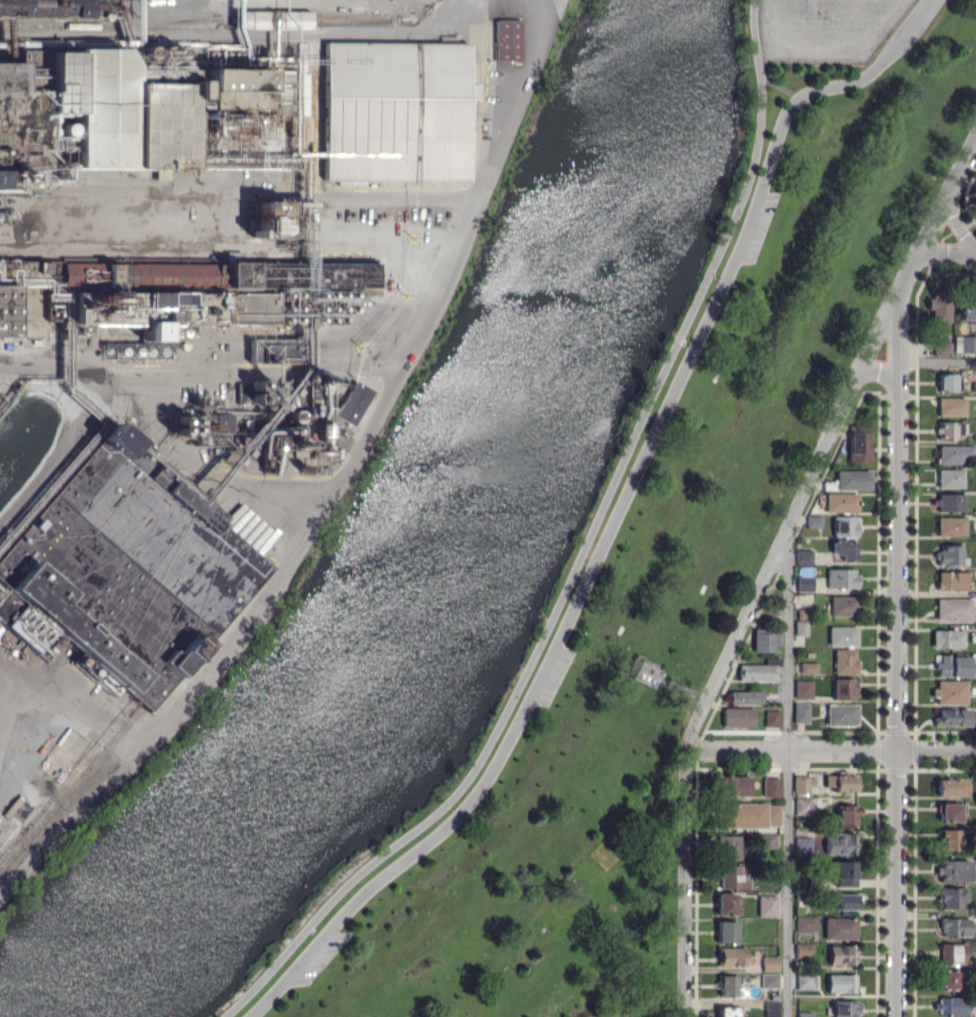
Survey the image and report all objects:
building: (42, 8)
building: (249, 17)
railway: (193, 18)
building: (293, 19)
road: (757, 27)
road: (752, 29)
parking lot: (819, 30)
building: (506, 40)
road: (845, 55)
road: (759, 57)
building: (232, 79)
building: (97, 111)
building: (395, 111)
building: (0, 182)
road: (949, 197)
silo: (189, 207)
silo: (132, 208)
silo: (151, 208)
silo: (170, 208)
silo: (93, 209)
silo: (113, 209)
silo: (72, 210)
building: (267, 218)
silo: (72, 230)
silo: (94, 230)
silo: (114, 230)
silo: (134, 230)
silo: (152, 230)
silo: (170, 230)
silo: (190, 230)
road: (949, 254)
building: (161, 298)
building: (939, 306)
building: (247, 308)
building: (967, 309)
building: (6, 311)
building: (965, 344)
building: (942, 348)
building: (268, 350)
road: (937, 363)
road: (882, 367)
building: (948, 381)
building: (242, 391)
building: (353, 402)
building: (951, 406)
building: (207, 425)
building: (949, 429)
building: (859, 444)
building: (953, 453)
building: (949, 477)
building: (853, 479)
building: (948, 501)
building: (841, 502)
road: (615, 517)
building: (844, 525)
building: (950, 526)
building: (844, 549)
building: (950, 553)
building: (803, 556)
park: (656, 560)
building: (136, 562)
building: (840, 577)
building: (950, 580)
road: (565, 582)
building: (804, 583)
building: (842, 605)
building: (5, 608)
building: (953, 608)
road: (744, 621)
building: (62, 624)
building: (800, 627)
building: (29, 633)
building: (842, 635)
building: (947, 638)
building: (765, 640)
building: (183, 658)
building: (844, 660)
road: (897, 661)
building: (952, 665)
building: (808, 667)
building: (758, 670)
building: (646, 674)
building: (843, 688)
building: (803, 689)
building: (950, 692)
building: (745, 697)
building: (801, 712)
building: (841, 714)
building: (738, 716)
building: (771, 717)
building: (952, 717)
road: (831, 751)
road: (787, 775)
building: (841, 782)
building: (734, 785)
building: (802, 786)
building: (952, 786)
building: (771, 787)
railway: (69, 794)
building: (802, 805)
building: (949, 812)
building: (750, 814)
building: (846, 815)
building: (949, 839)
building: (768, 840)
building: (841, 843)
building: (803, 845)
building: (729, 847)
building: (953, 870)
building: (843, 872)
building: (732, 877)
building: (952, 897)
building: (845, 901)
building: (725, 903)
building: (767, 905)
building: (806, 923)
building: (954, 926)
building: (840, 928)
building: (726, 931)
building: (803, 950)
building: (951, 952)
building: (841, 954)
building: (731, 956)
building: (770, 963)
building: (769, 979)
building: (947, 979)
building: (805, 981)
building: (841, 982)
building: (727, 985)
building: (948, 1005)
building: (771, 1008)
building: (844, 1008)
building: (728, 1011)

